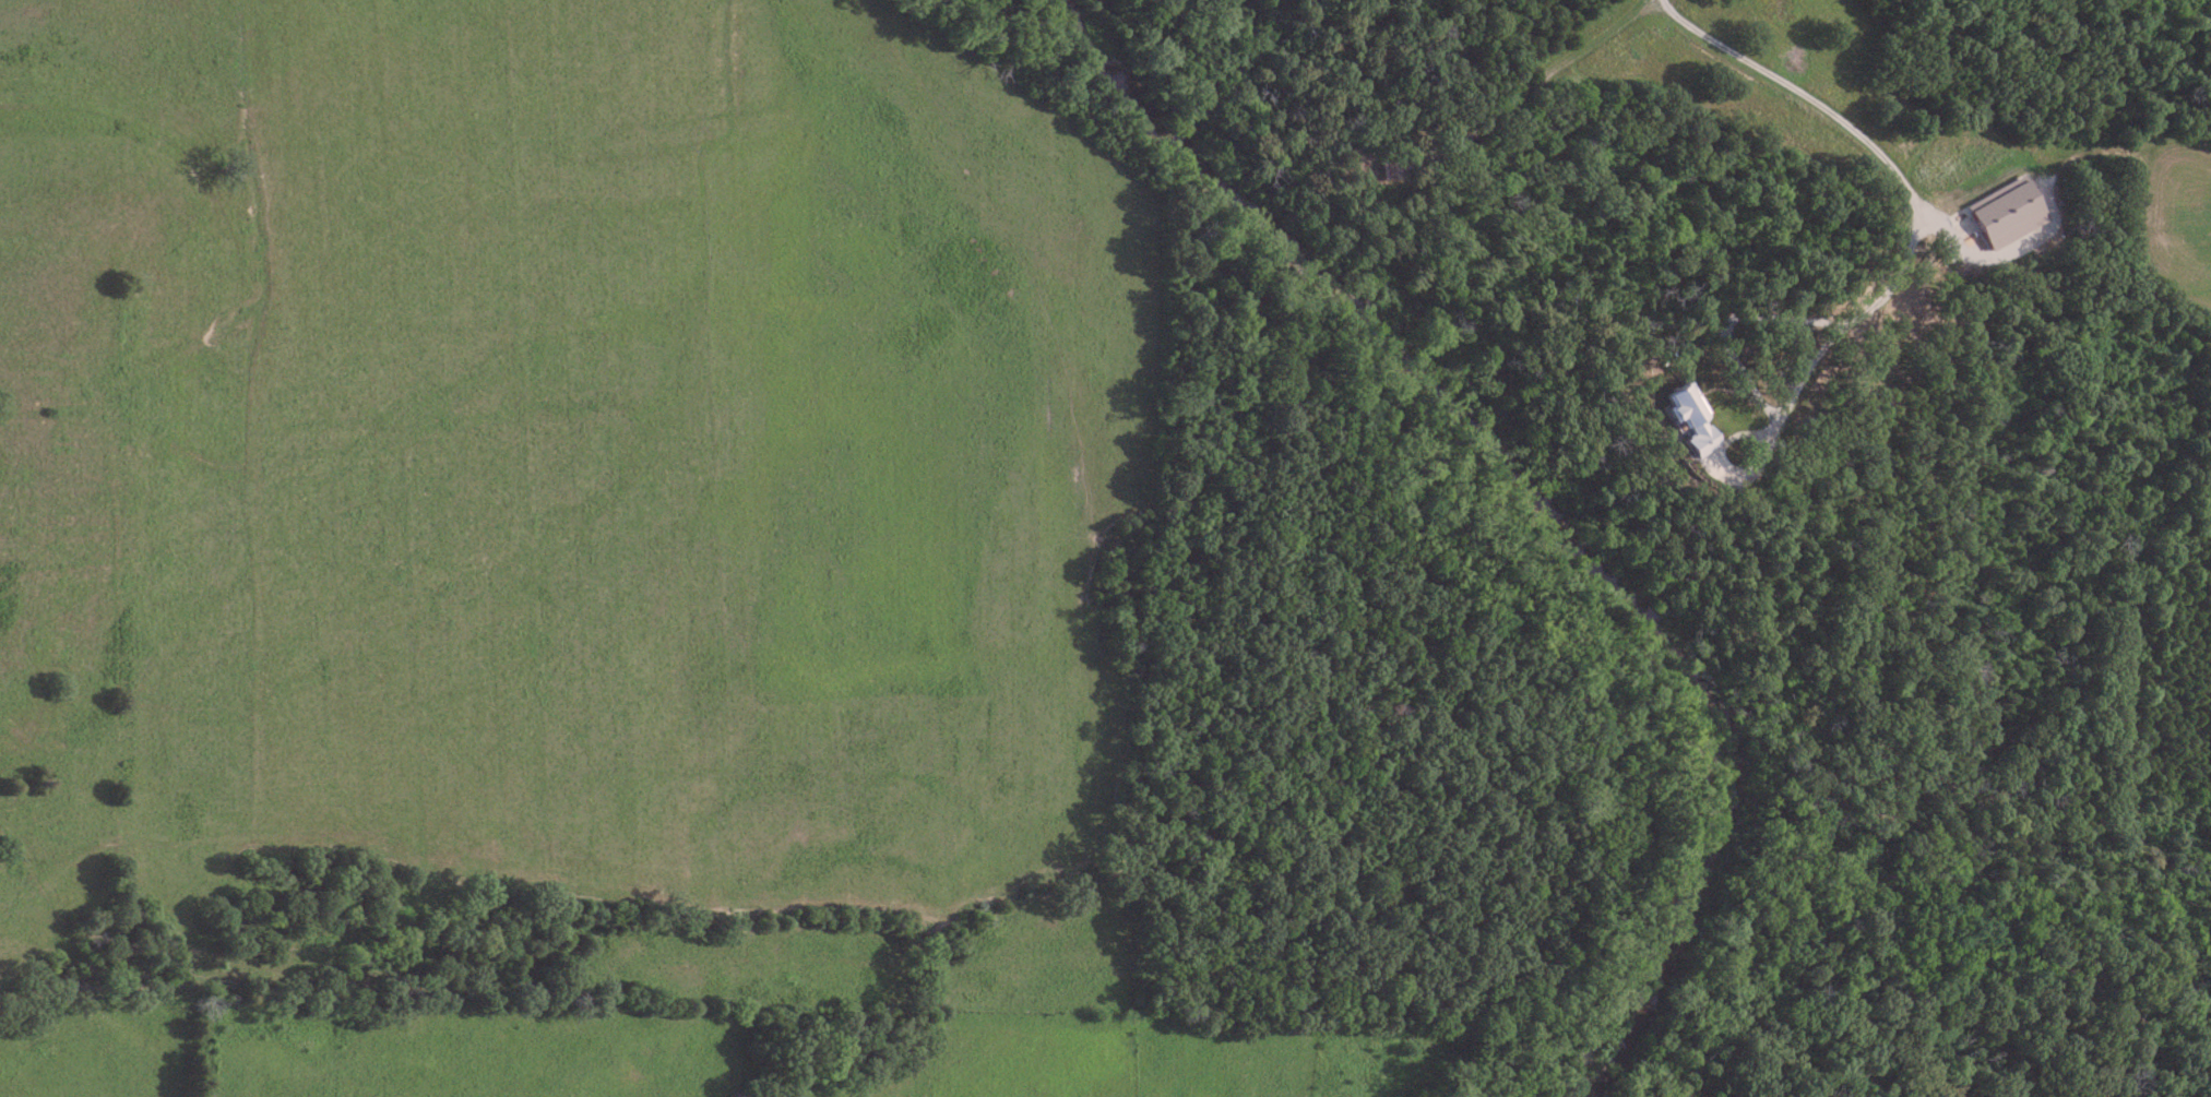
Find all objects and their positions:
road: (1547, 76)
road: (1414, 176)
road: (1913, 218)

